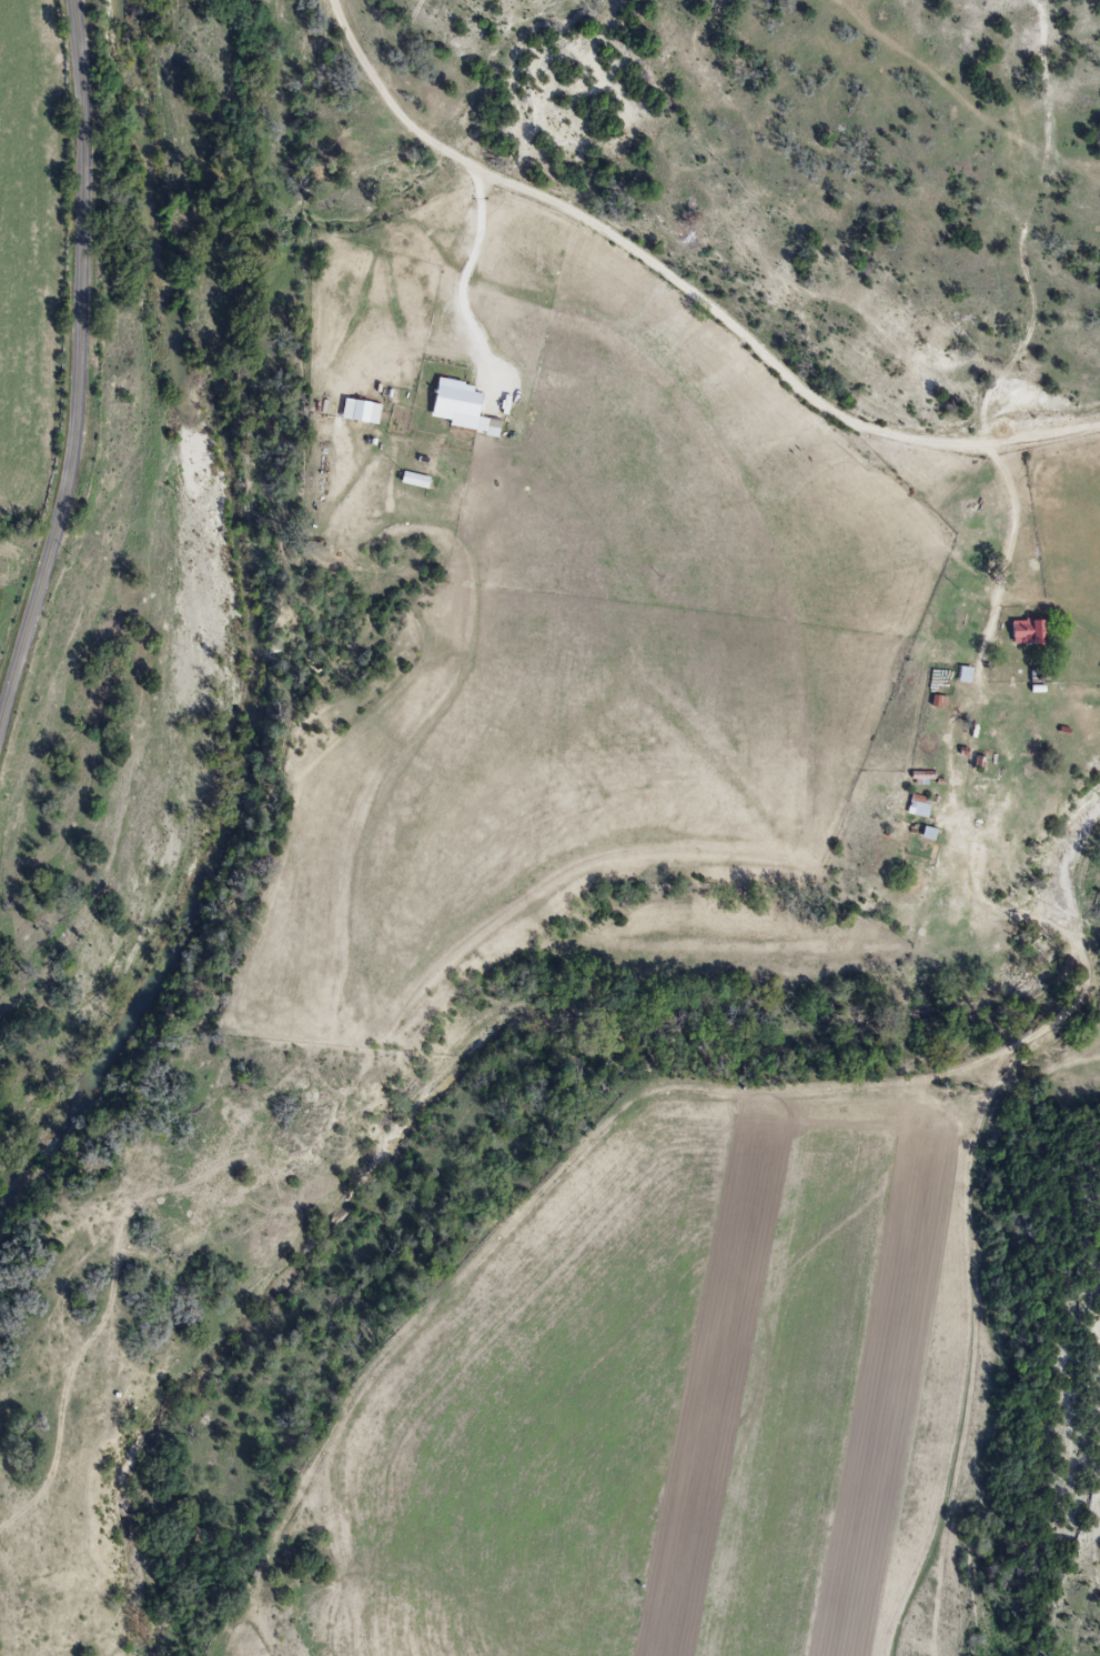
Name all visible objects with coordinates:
road: (1040, 160)
road: (688, 280)
road: (472, 283)
road: (77, 365)
building: (1021, 631)
building: (960, 674)
building: (982, 777)
building: (916, 805)

